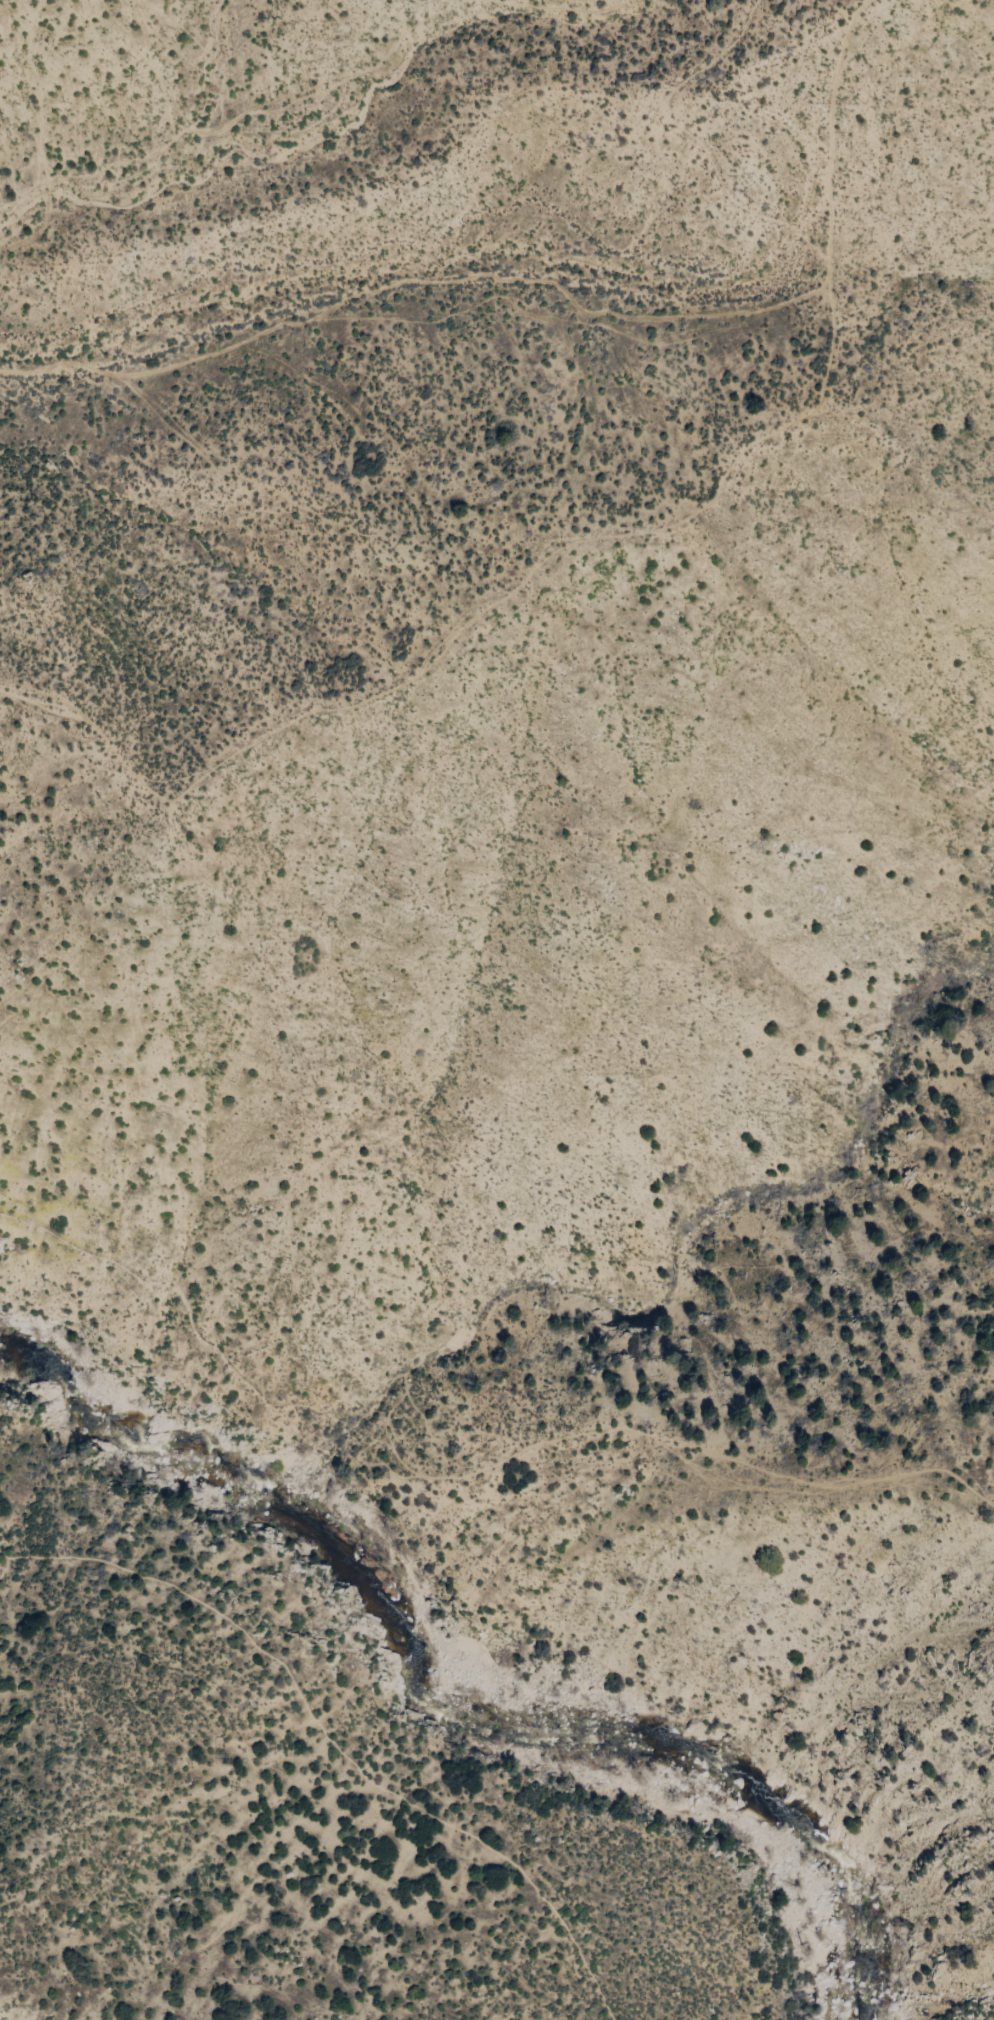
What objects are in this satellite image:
road: (190, 132)
road: (335, 135)
road: (690, 141)
road: (229, 146)
road: (557, 296)
road: (460, 636)
road: (333, 1730)

